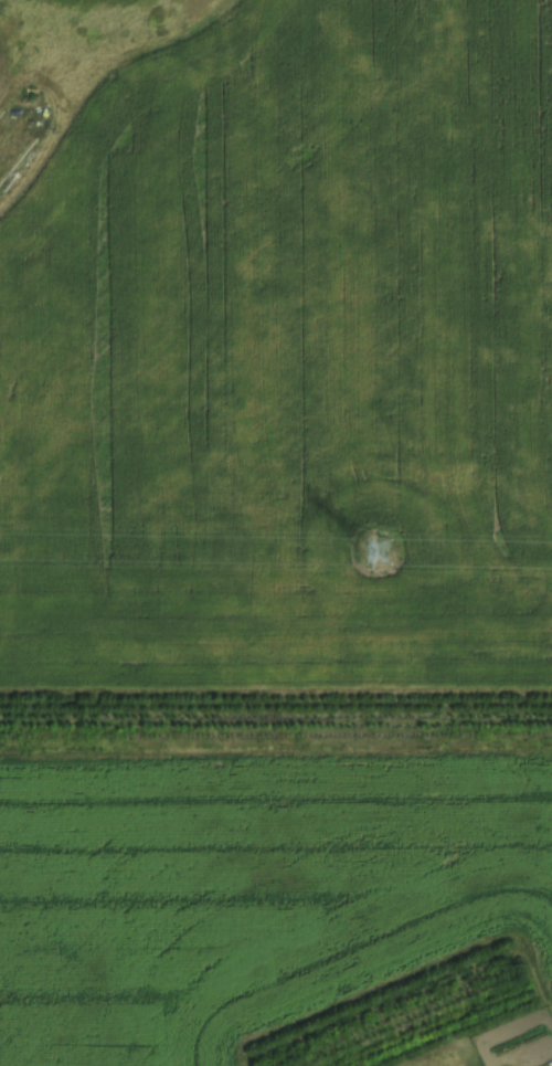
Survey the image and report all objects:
power tower: (379, 552)

